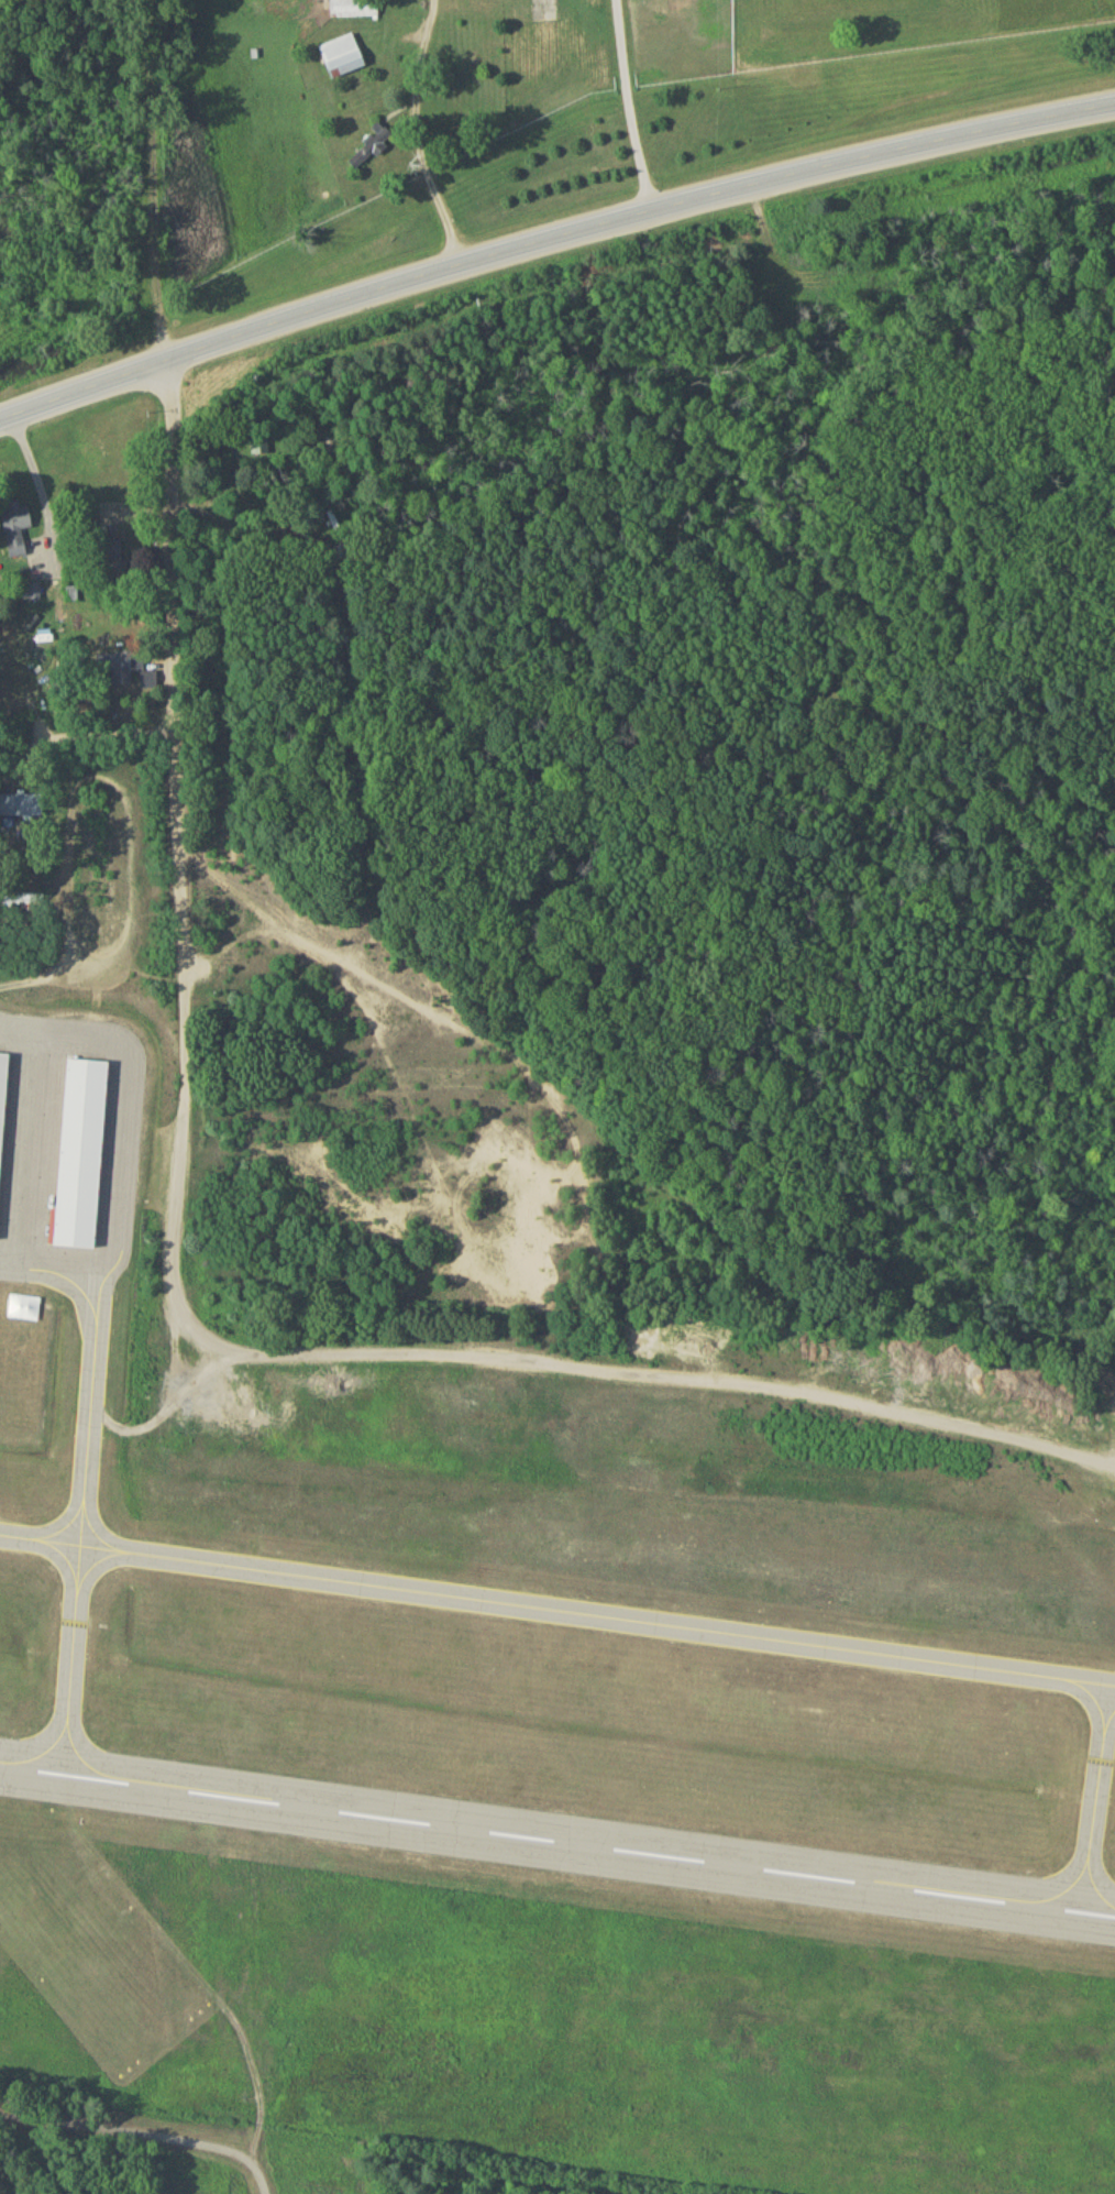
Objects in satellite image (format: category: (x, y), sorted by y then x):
building: (354, 10)
building: (343, 59)
road: (628, 107)
building: (373, 151)
road: (428, 191)
road: (551, 240)
building: (258, 448)
road: (38, 491)
building: (16, 531)
building: (114, 563)
building: (31, 595)
building: (43, 655)
building: (123, 671)
road: (96, 738)
building: (21, 809)
road: (175, 847)
building: (25, 902)
road: (7, 1013)
building: (3, 1111)
road: (422, 1353)
airport taxiway: (92, 1382)
airport taxiway: (557, 1612)
airport: (525, 1754)
airport taxiway: (1094, 1802)
airport runway: (557, 1845)
road: (106, 2131)
road: (241, 2168)

